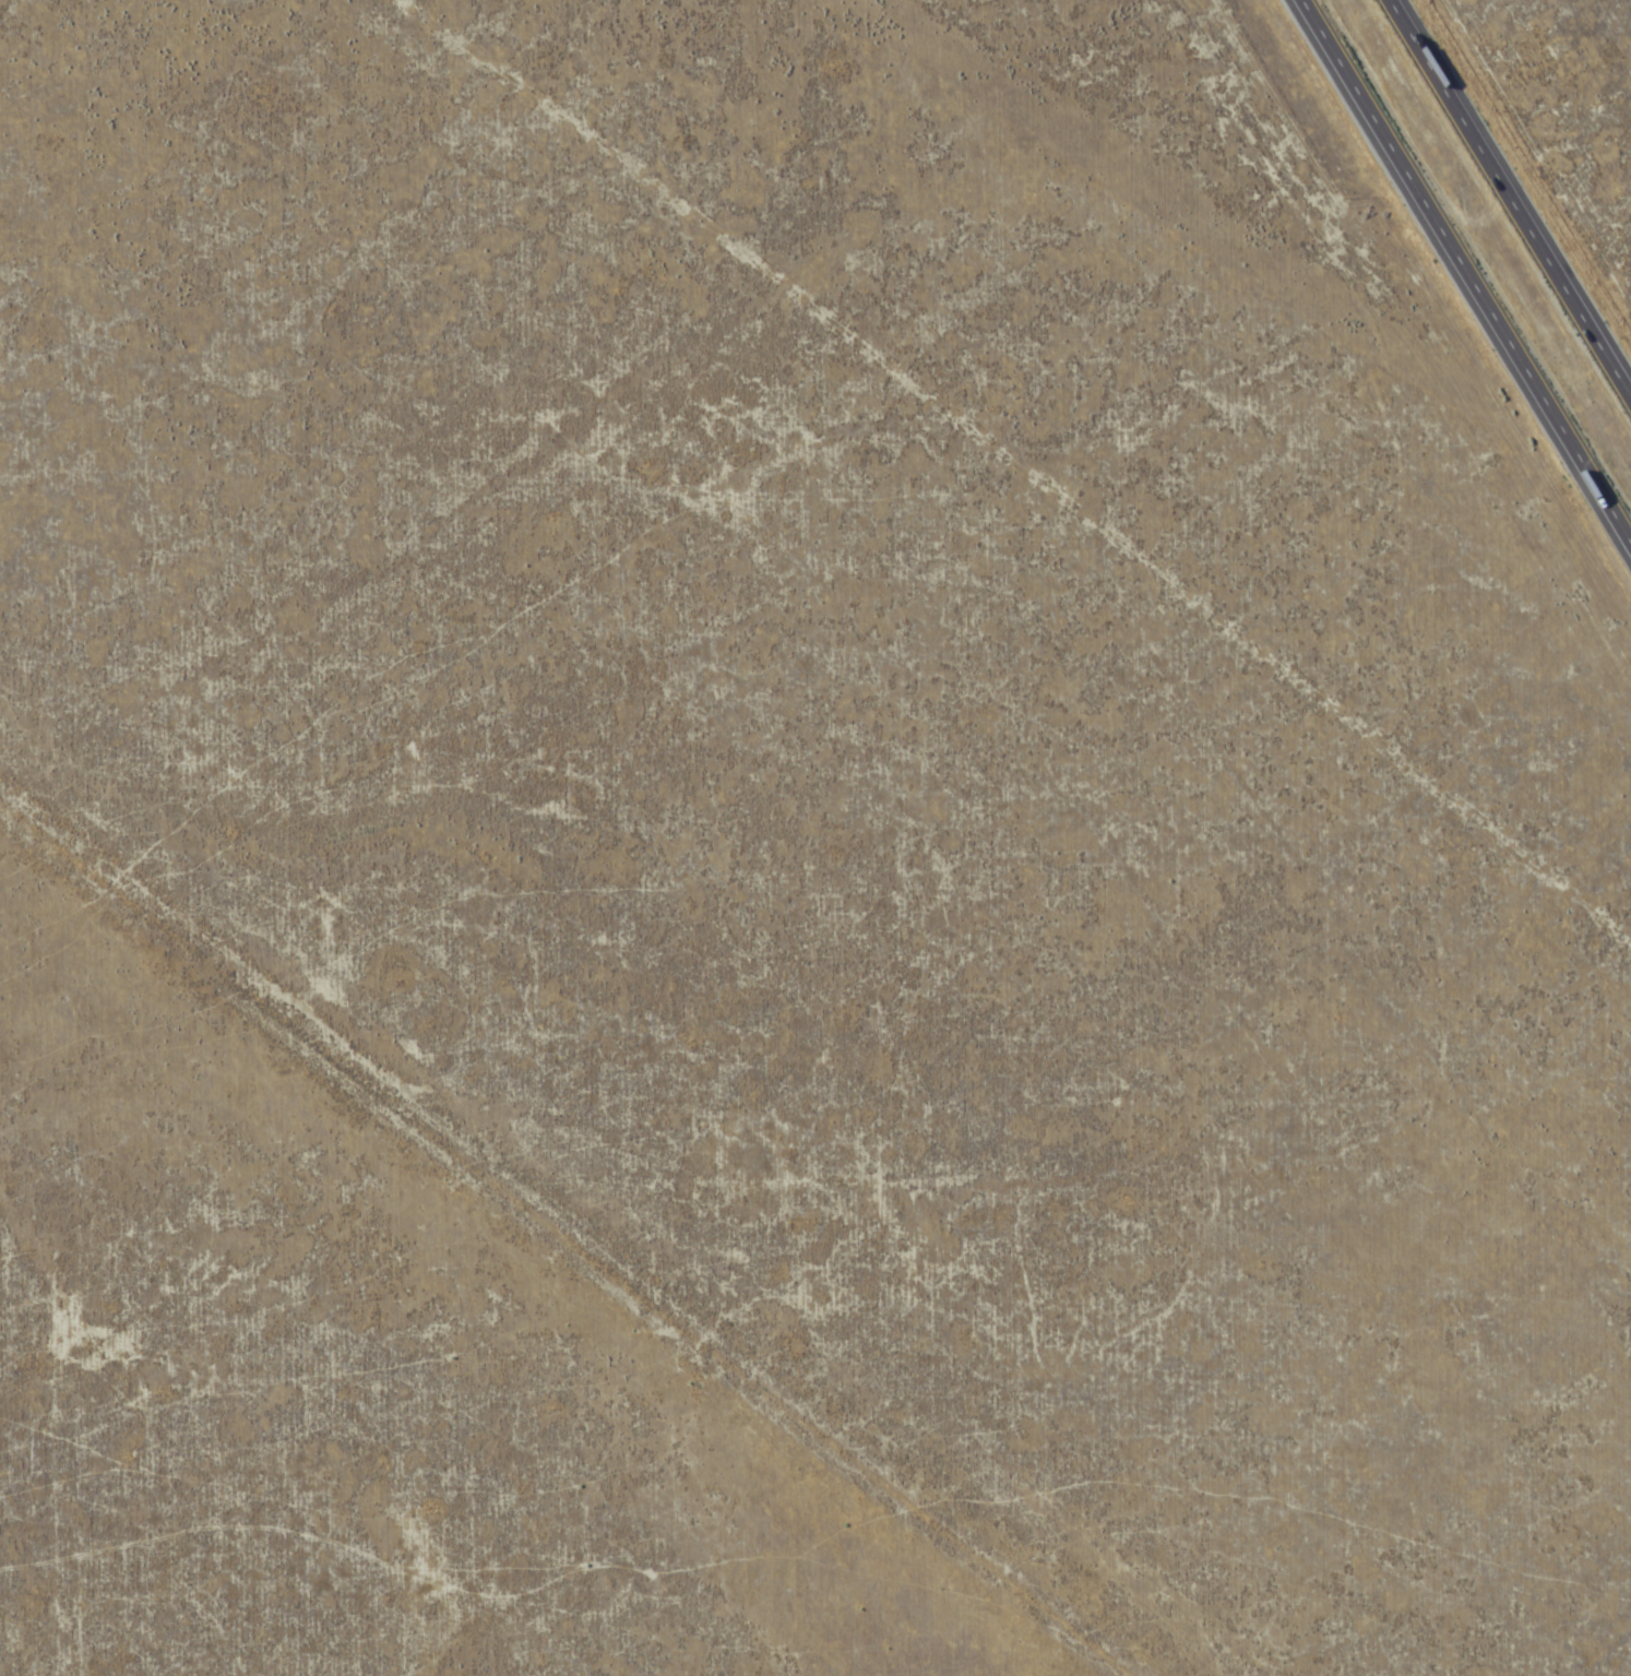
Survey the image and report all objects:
road: (1511, 198)
road: (1469, 264)

